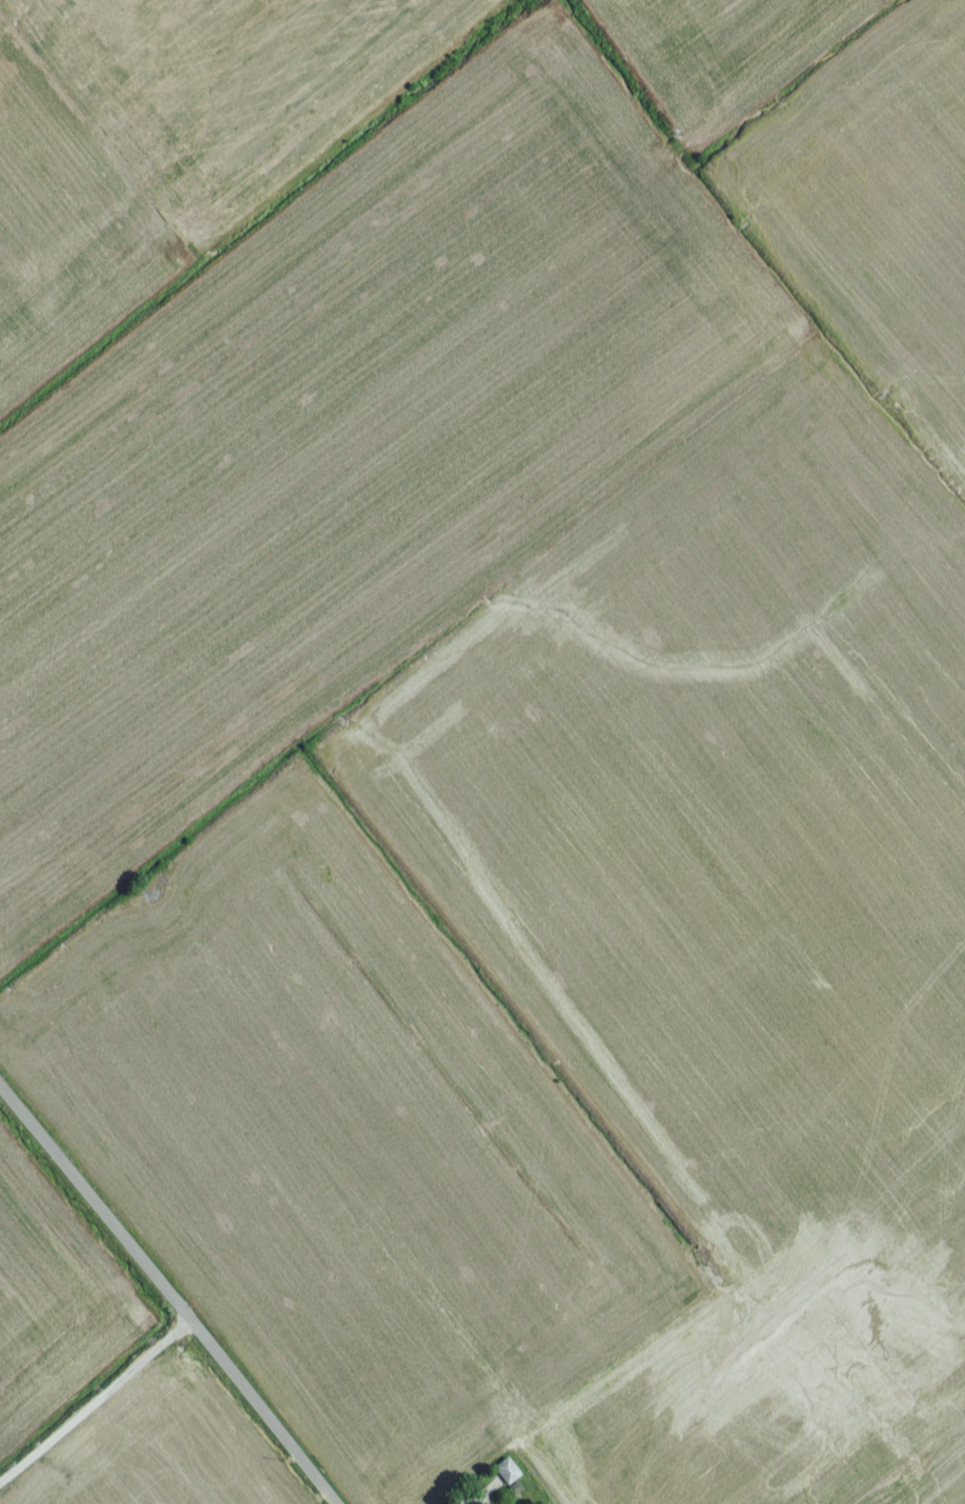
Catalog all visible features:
road: (164, 1298)
road: (94, 1407)
building: (506, 1477)

